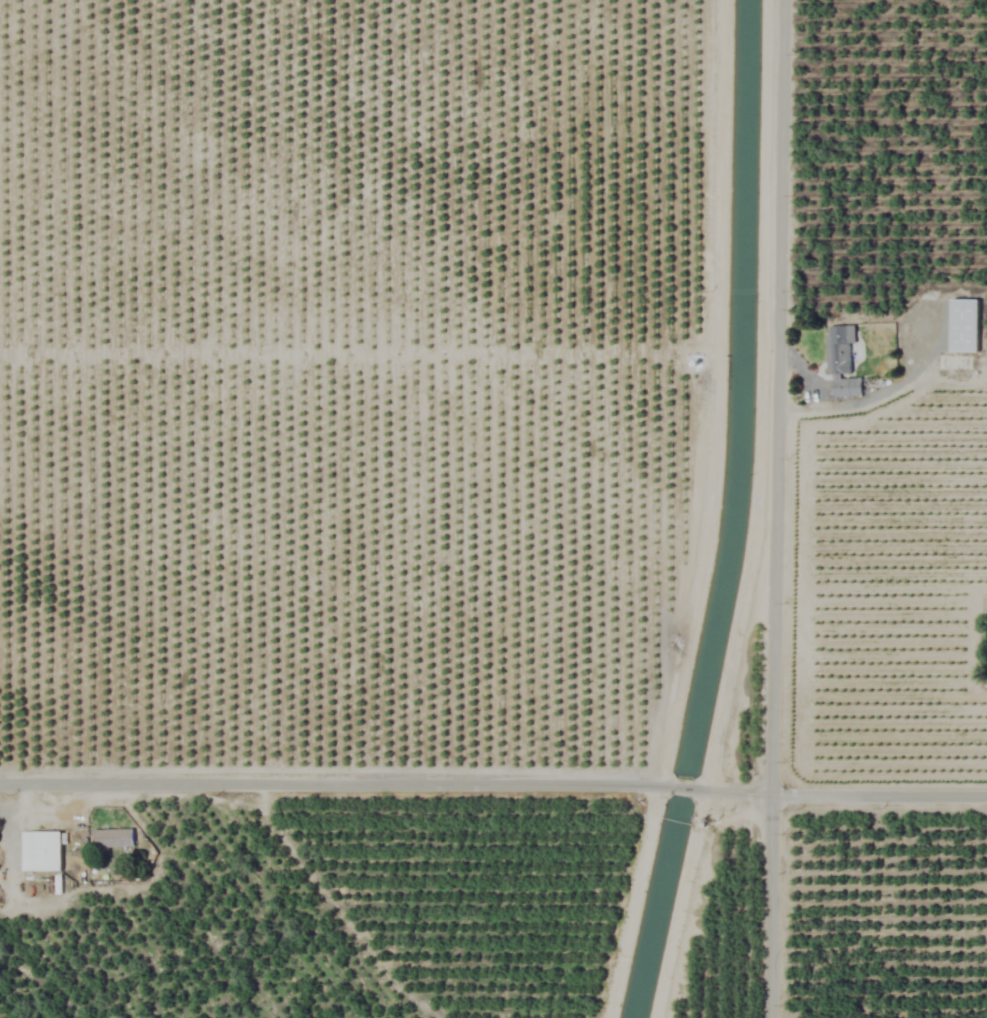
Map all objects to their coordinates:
building: (963, 326)
building: (840, 360)
road: (776, 508)
crop: (493, 509)
road: (493, 782)
building: (112, 838)
building: (40, 851)

